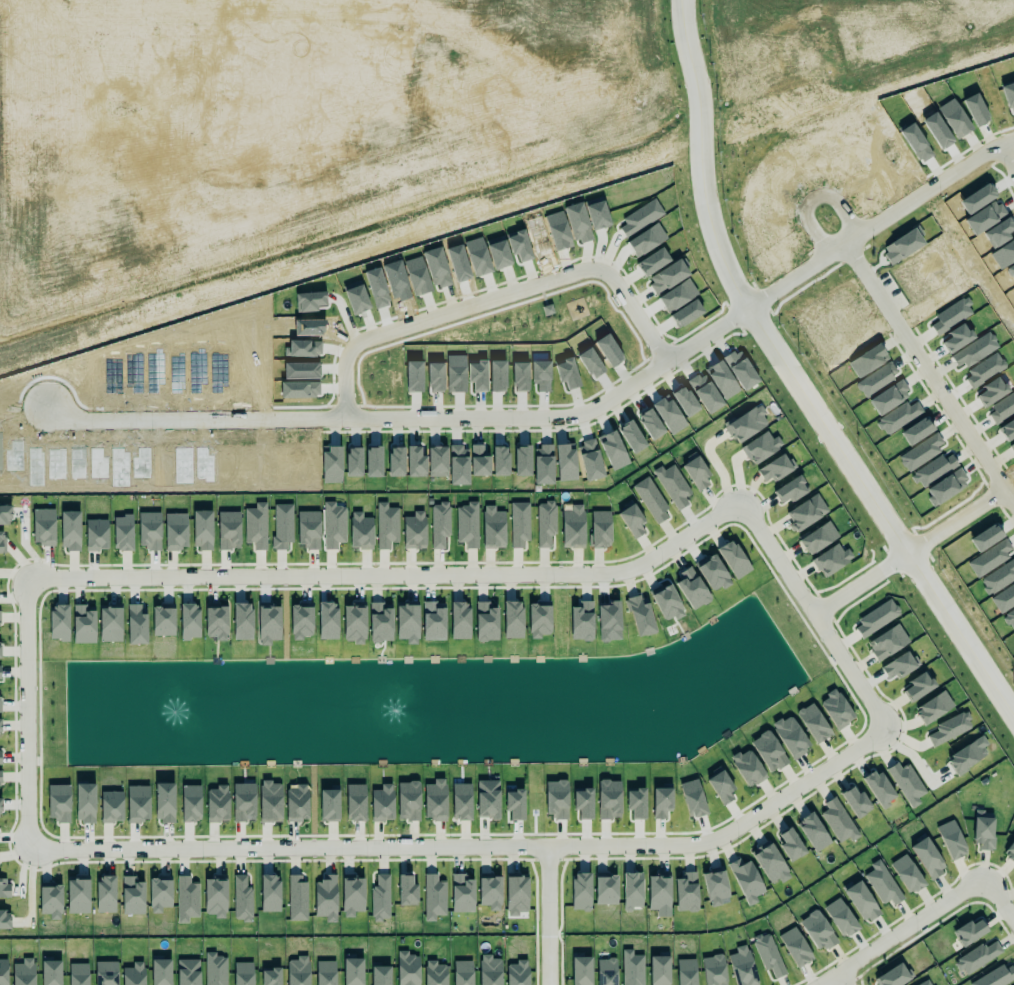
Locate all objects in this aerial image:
road: (324, 6)
road: (437, 66)
road: (309, 85)
road: (379, 146)
road: (1011, 154)
road: (494, 298)
road: (741, 298)
road: (925, 367)
road: (570, 418)
building: (746, 424)
building: (760, 447)
building: (774, 469)
building: (696, 473)
building: (672, 485)
building: (791, 490)
building: (651, 500)
building: (806, 512)
building: (5, 515)
road: (963, 518)
building: (631, 520)
building: (545, 523)
building: (439, 524)
building: (334, 525)
building: (467, 525)
building: (519, 525)
building: (256, 526)
building: (386, 526)
building: (43, 527)
building: (282, 527)
building: (572, 527)
building: (493, 528)
building: (308, 529)
building: (600, 529)
building: (70, 530)
building: (150, 530)
building: (202, 530)
building: (229, 530)
building: (175, 531)
building: (360, 531)
building: (414, 531)
building: (123, 533)
building: (96, 535)
building: (818, 538)
building: (2, 542)
building: (733, 559)
building: (831, 560)
building: (712, 573)
road: (254, 579)
road: (928, 588)
building: (692, 589)
building: (667, 603)
building: (640, 616)
road: (806, 617)
building: (0, 619)
building: (299, 619)
building: (512, 619)
building: (876, 619)
building: (163, 620)
building: (327, 620)
building: (459, 620)
building: (539, 620)
building: (189, 621)
building: (216, 621)
building: (242, 621)
building: (433, 621)
building: (582, 621)
building: (59, 622)
building: (486, 622)
building: (110, 623)
building: (268, 623)
building: (354, 623)
building: (380, 623)
building: (407, 623)
building: (83, 624)
building: (136, 624)
building: (0, 642)
building: (887, 642)
building: (898, 666)
building: (919, 686)
building: (933, 707)
building: (836, 709)
building: (813, 723)
building: (0, 729)
building: (950, 729)
building: (790, 736)
building: (769, 752)
building: (965, 757)
building: (0, 762)
building: (747, 768)
building: (0, 778)
building: (907, 783)
building: (721, 787)
building: (878, 788)
building: (693, 798)
building: (487, 799)
building: (556, 799)
building: (609, 799)
building: (408, 800)
building: (435, 800)
building: (855, 800)
building: (243, 801)
building: (461, 801)
building: (164, 802)
building: (270, 802)
building: (662, 802)
building: (59, 803)
building: (85, 803)
building: (137, 803)
building: (190, 803)
building: (296, 803)
building: (355, 803)
building: (382, 803)
building: (583, 803)
building: (636, 803)
building: (217, 804)
building: (514, 804)
building: (329, 805)
building: (0, 806)
building: (111, 806)
building: (837, 820)
building: (982, 828)
building: (813, 832)
building: (790, 840)
building: (951, 840)
road: (468, 850)
building: (1009, 851)
building: (927, 858)
building: (770, 863)
building: (907, 874)
building: (746, 881)
building: (882, 881)
building: (715, 886)
building: (406, 887)
building: (4, 888)
building: (489, 888)
building: (686, 888)
building: (606, 889)
building: (581, 891)
building: (632, 891)
building: (658, 891)
building: (269, 893)
building: (462, 893)
building: (78, 894)
building: (105, 894)
building: (159, 894)
building: (215, 894)
building: (132, 895)
building: (352, 895)
building: (516, 896)
building: (297, 897)
building: (434, 897)
building: (325, 898)
building: (380, 898)
building: (186, 899)
building: (242, 899)
building: (51, 900)
building: (861, 900)
road: (996, 901)
building: (839, 914)
building: (4, 916)
road: (541, 917)
building: (817, 931)
building: (969, 931)
road: (903, 934)
building: (795, 947)
building: (768, 954)
building: (976, 954)
building: (631, 966)
building: (742, 967)
building: (406, 968)
building: (659, 968)
building: (215, 969)
building: (489, 969)
building: (712, 969)
building: (160, 970)
building: (352, 970)
building: (298, 971)
building: (581, 971)
building: (606, 971)
building: (3, 972)
building: (24, 972)
building: (51, 972)
building: (188, 972)
building: (242, 972)
building: (325, 972)
building: (516, 972)
building: (686, 972)
building: (77, 973)
building: (106, 973)
building: (434, 973)
building: (462, 973)
building: (134, 974)
building: (380, 975)
building: (995, 975)
building: (270, 976)
building: (892, 976)
road: (843, 981)
building: (925, 983)

